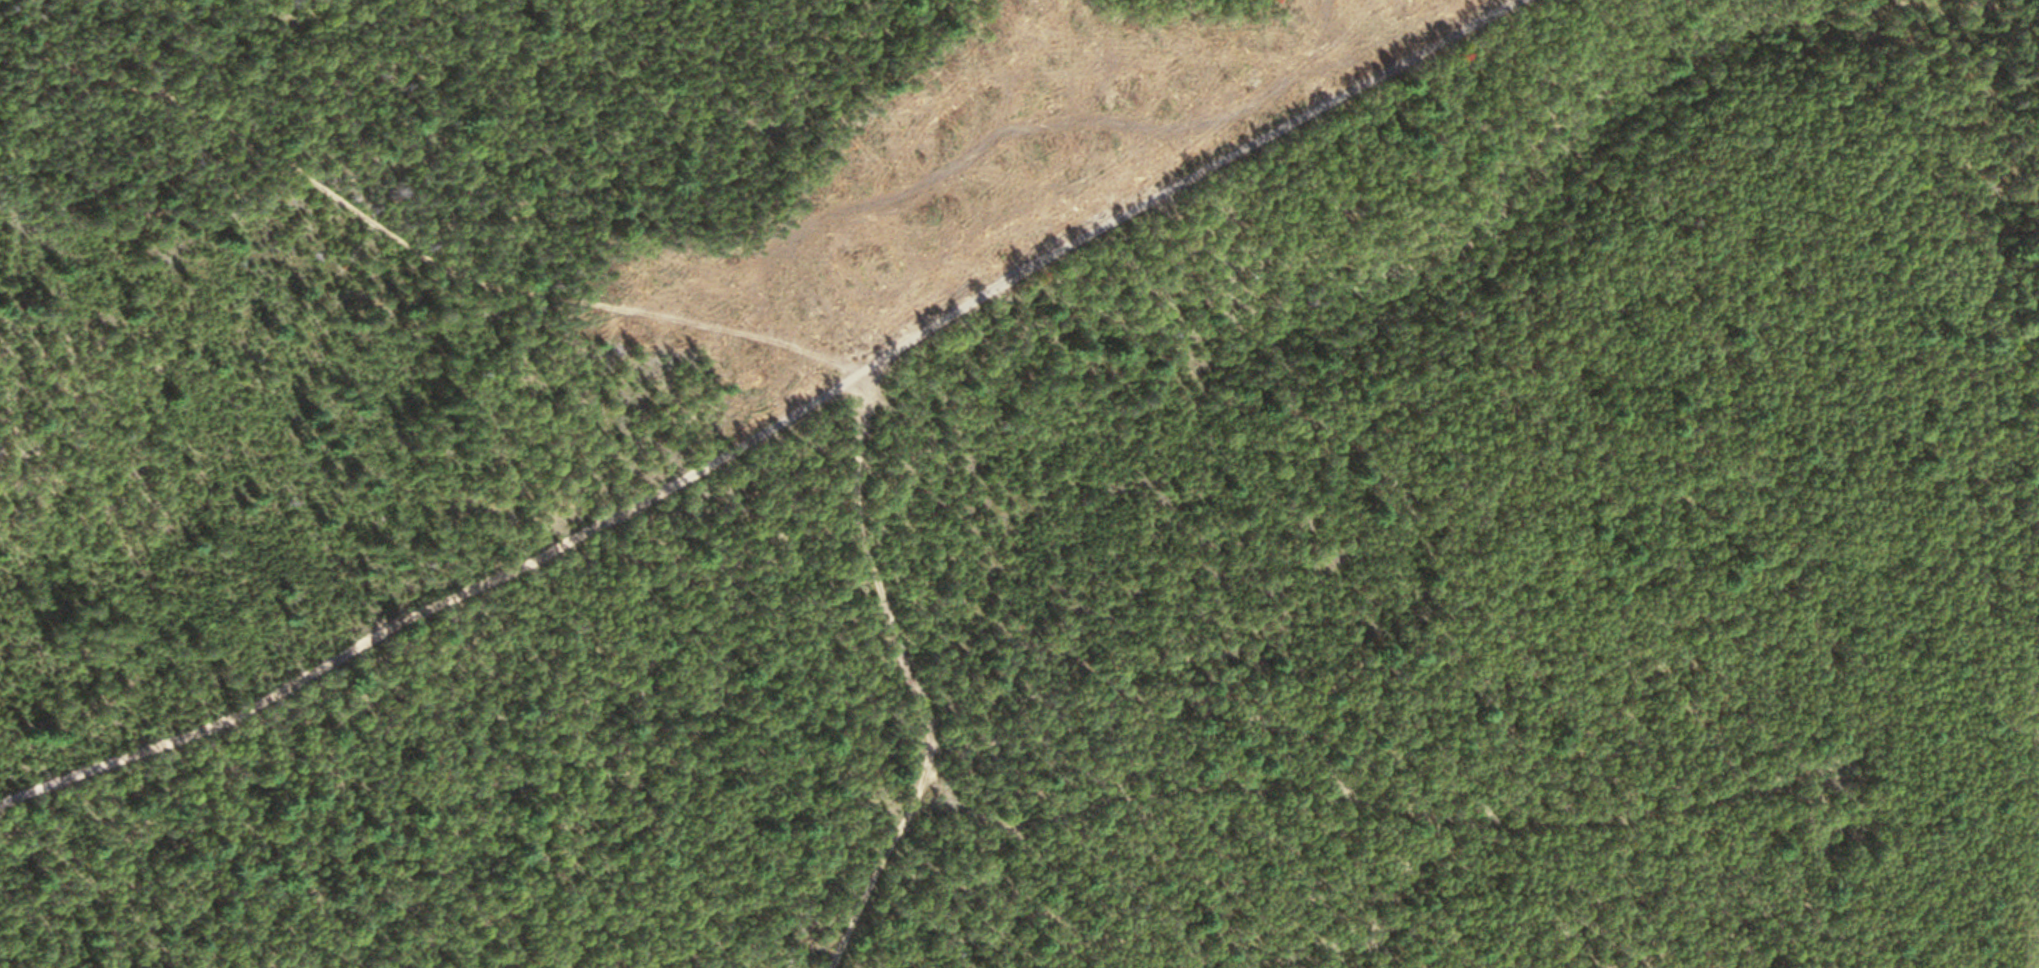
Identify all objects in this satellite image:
road: (412, 246)
road: (774, 413)
road: (910, 673)

